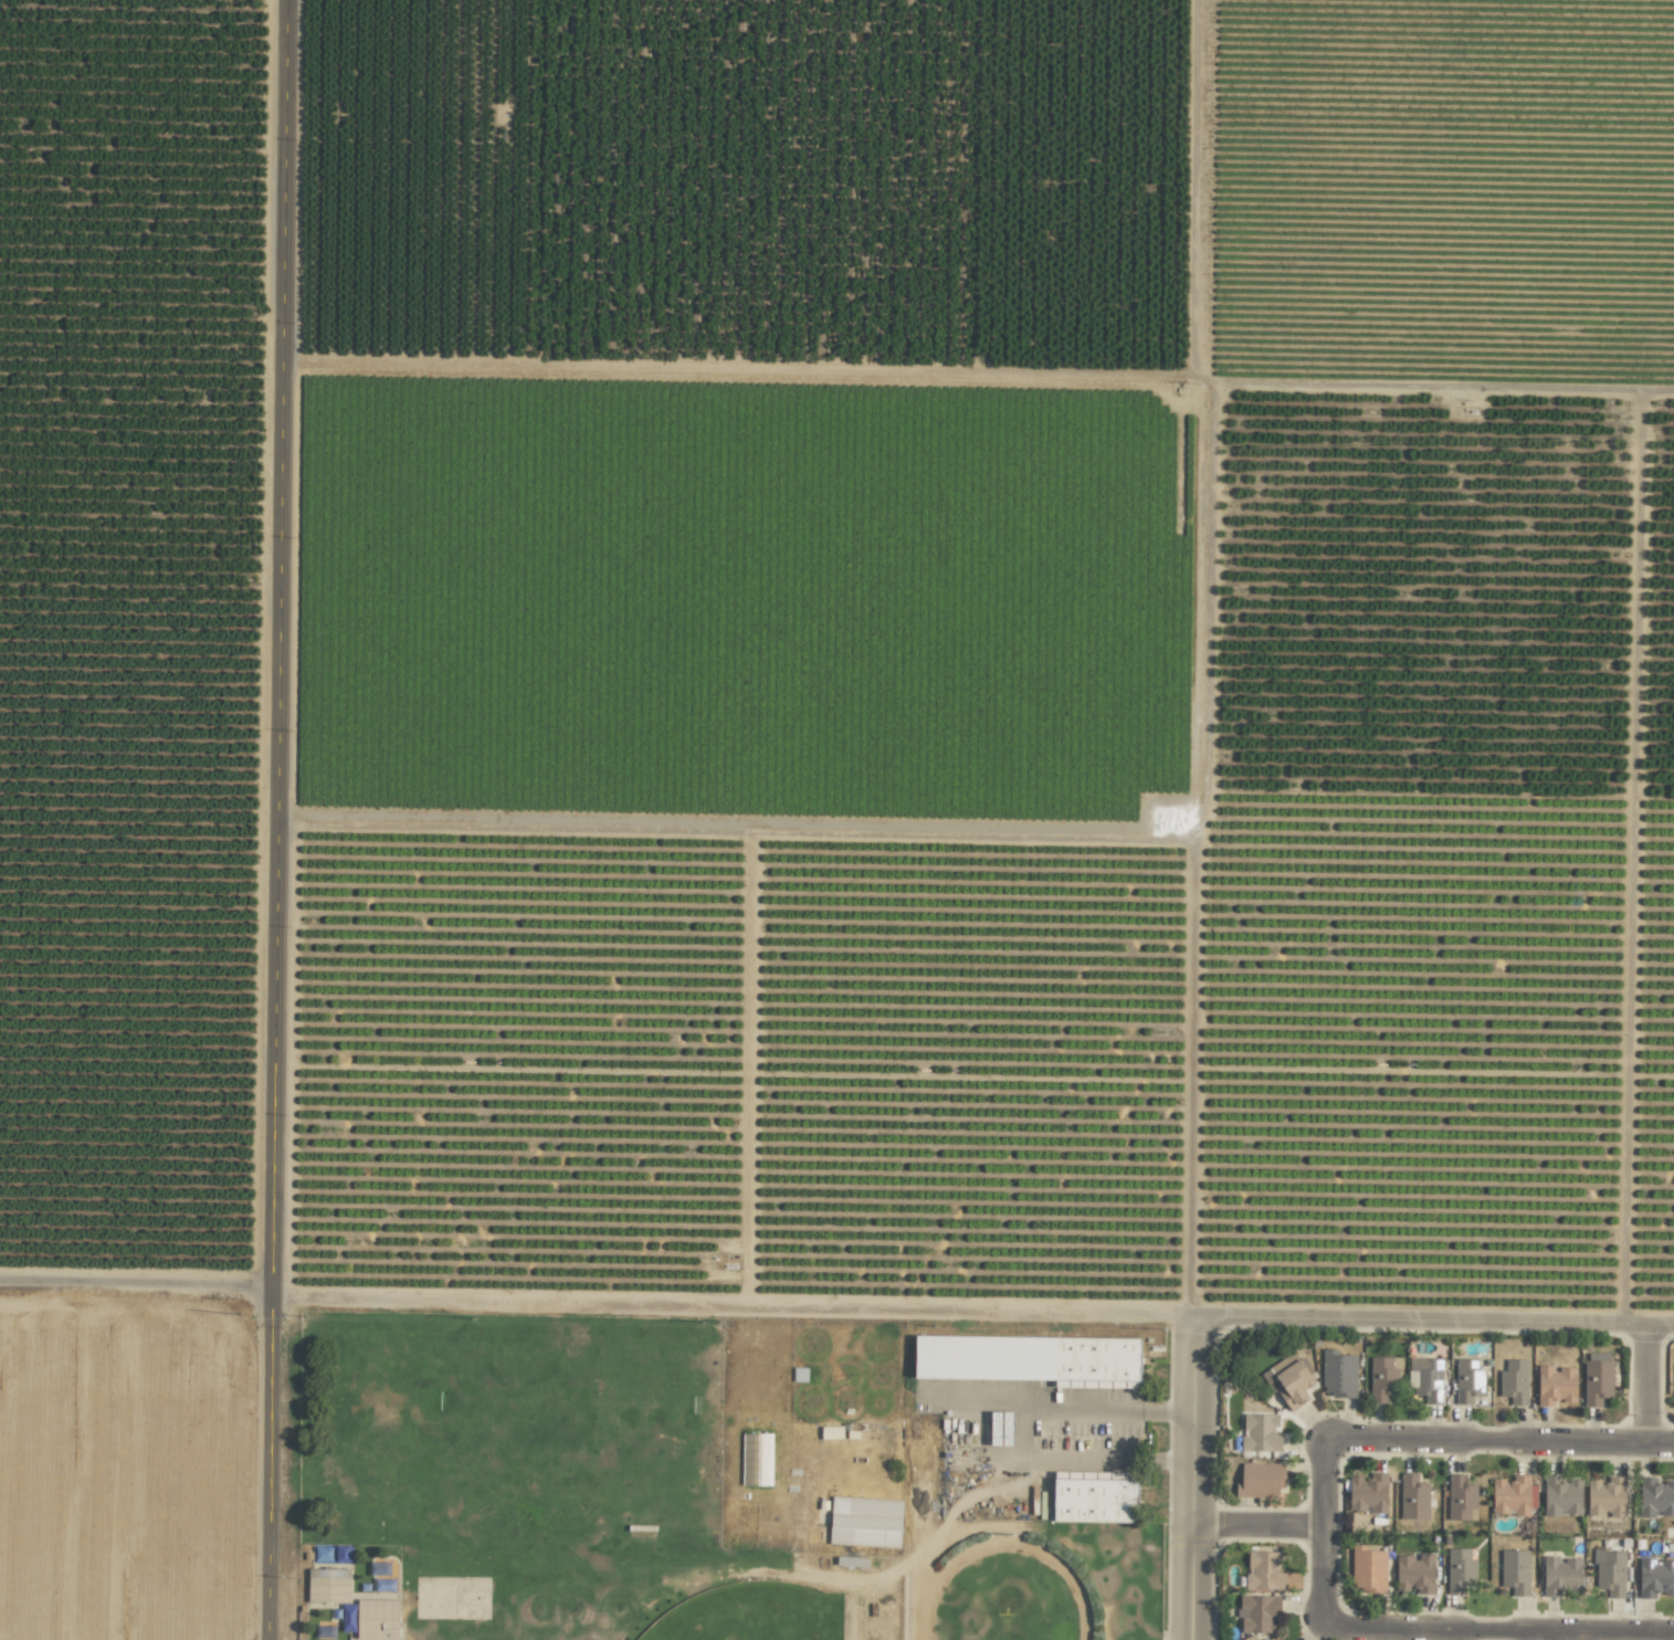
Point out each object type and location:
road: (281, 819)
road: (597, 1297)
road: (1433, 1326)
building: (1026, 1358)
building: (1338, 1374)
building: (1383, 1378)
building: (1425, 1378)
building: (1289, 1380)
building: (1468, 1380)
building: (1515, 1381)
building: (1597, 1381)
building: (1555, 1385)
road: (1644, 1385)
road: (1020, 1412)
building: (831, 1432)
building: (1261, 1432)
road: (1501, 1439)
building: (757, 1459)
road: (1169, 1460)
building: (1260, 1480)
road: (1191, 1481)
building: (1368, 1493)
building: (1514, 1494)
building: (1561, 1496)
building: (1605, 1496)
building: (1655, 1496)
building: (1413, 1497)
building: (1461, 1497)
building: (1093, 1499)
building: (865, 1522)
road: (1255, 1524)
road: (1320, 1536)
building: (1368, 1568)
building: (1460, 1570)
building: (1515, 1570)
building: (1264, 1571)
building: (1609, 1571)
building: (1414, 1573)
building: (1561, 1576)
building: (1655, 1577)
building: (328, 1585)
building: (1259, 1613)
building: (377, 1619)
road: (1503, 1632)

